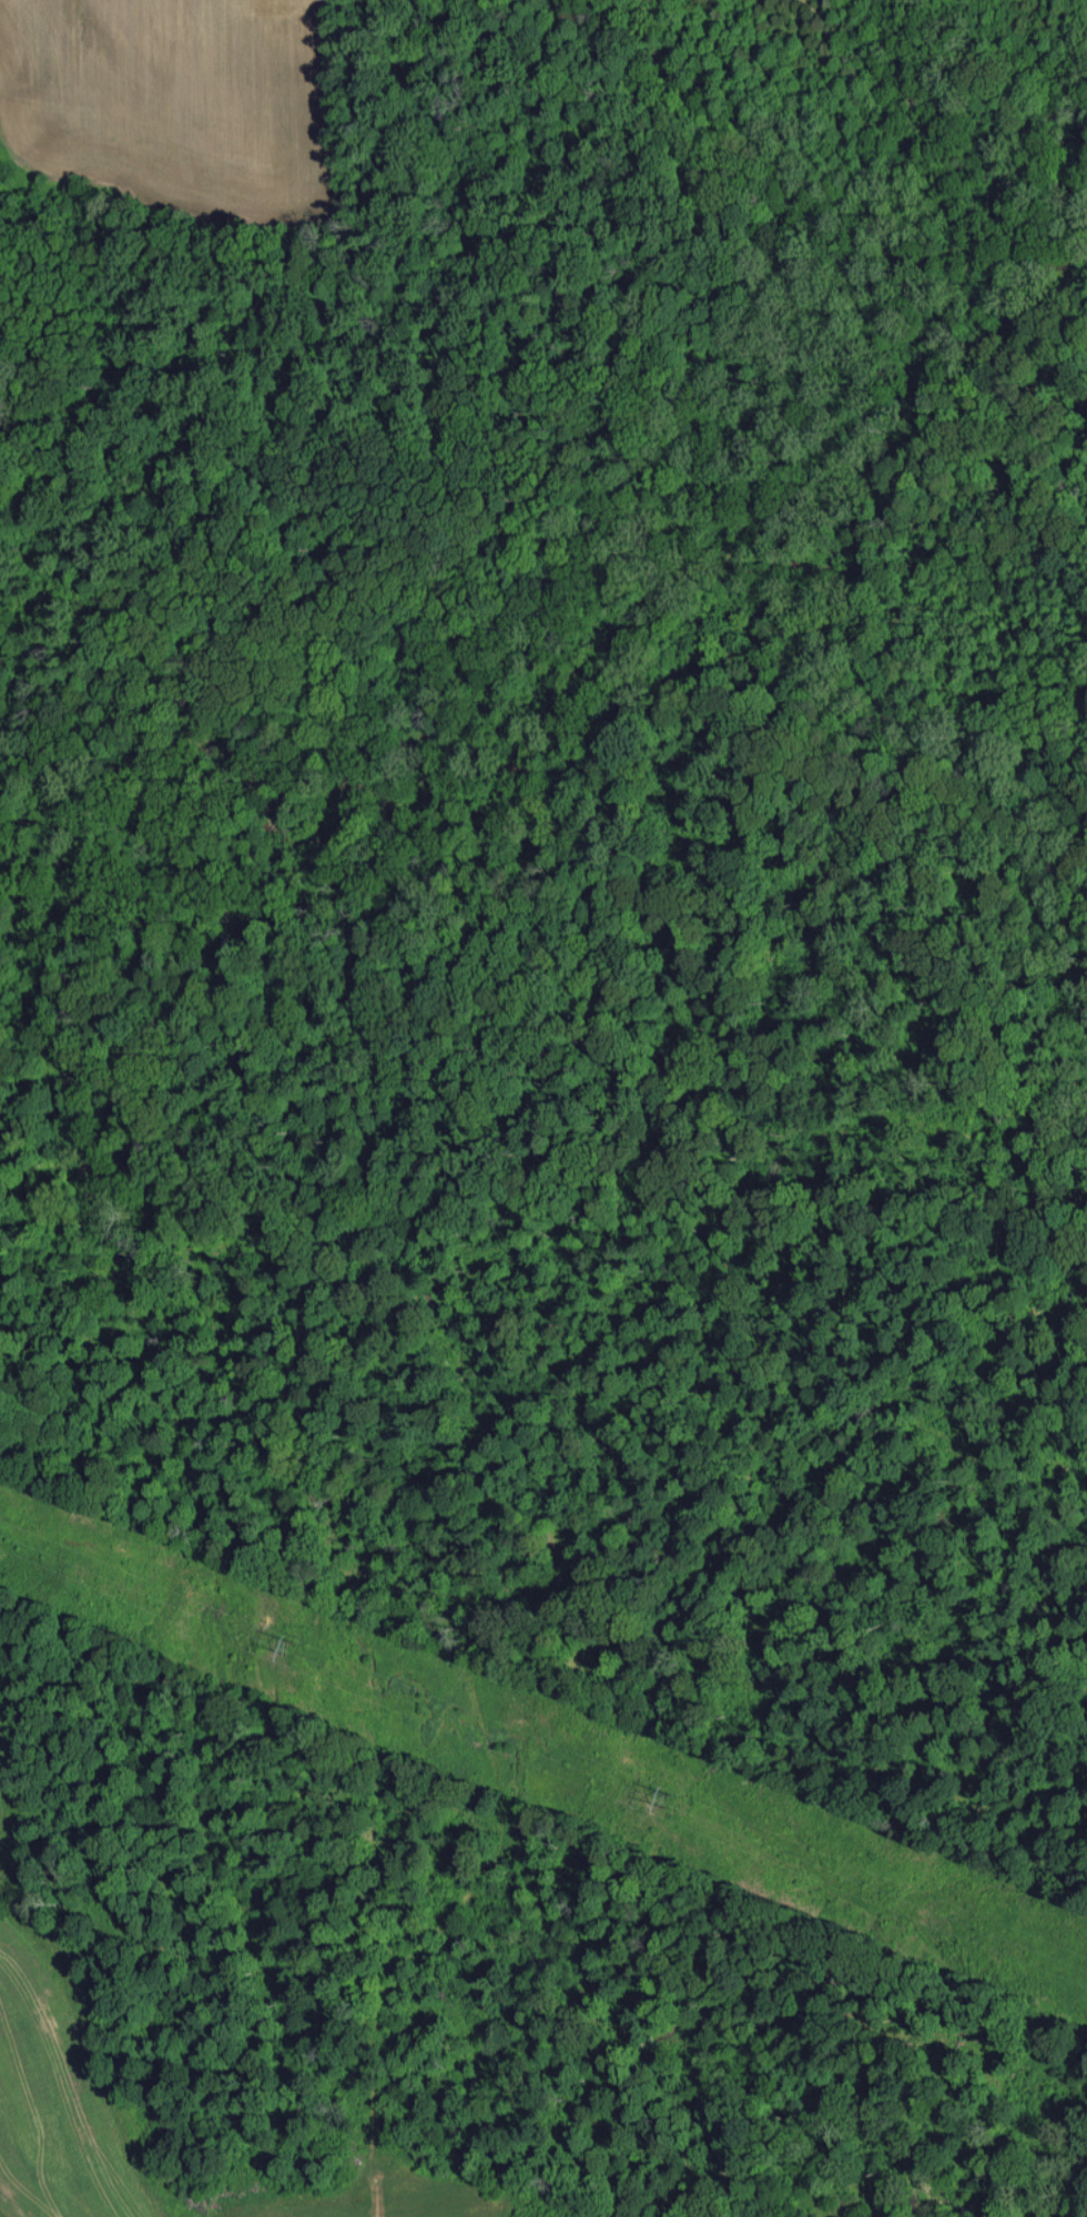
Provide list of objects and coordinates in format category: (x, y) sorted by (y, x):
power tower: (293, 1643)
power tower: (673, 1796)

